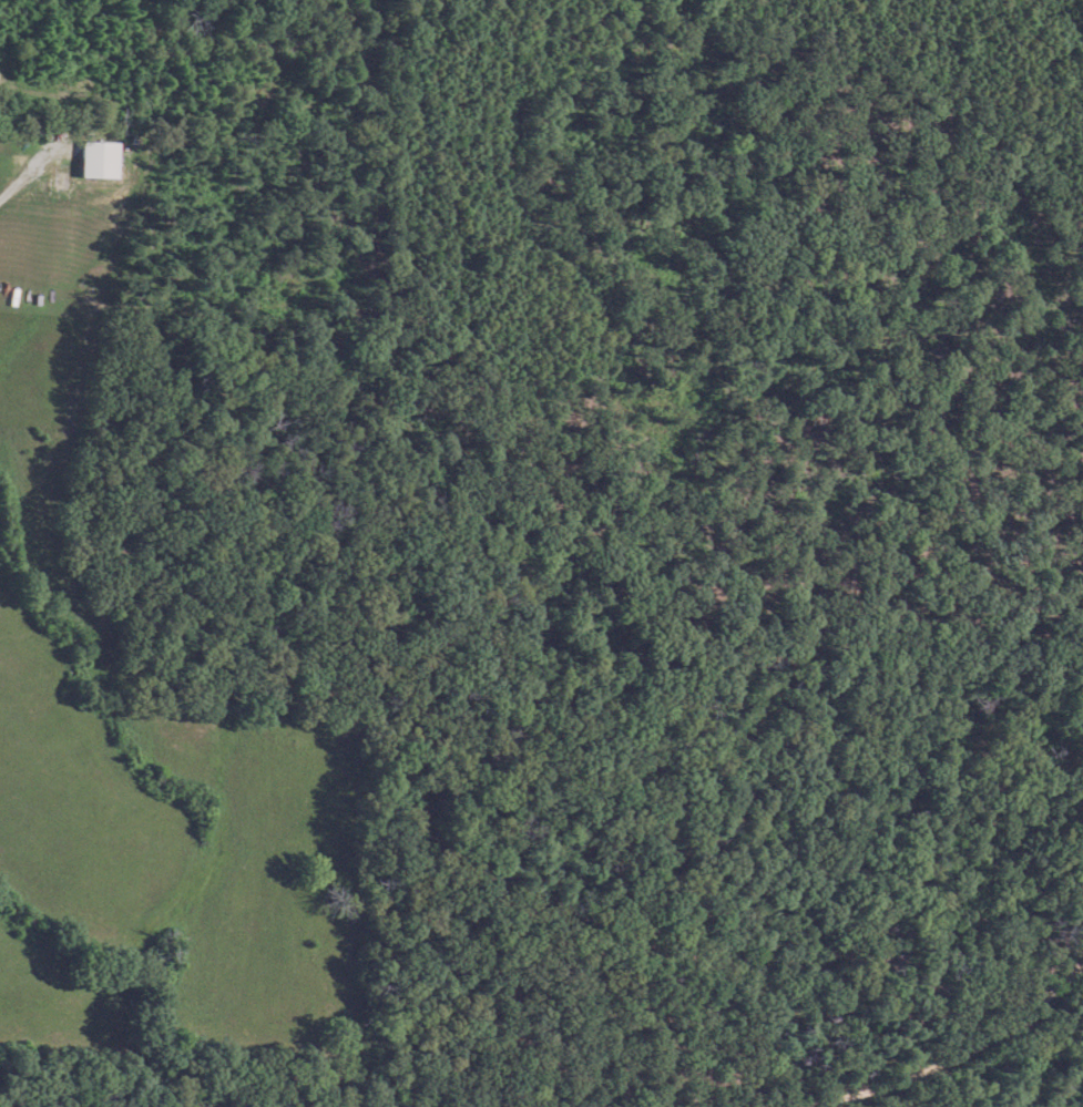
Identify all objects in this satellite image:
road: (961, 1057)

